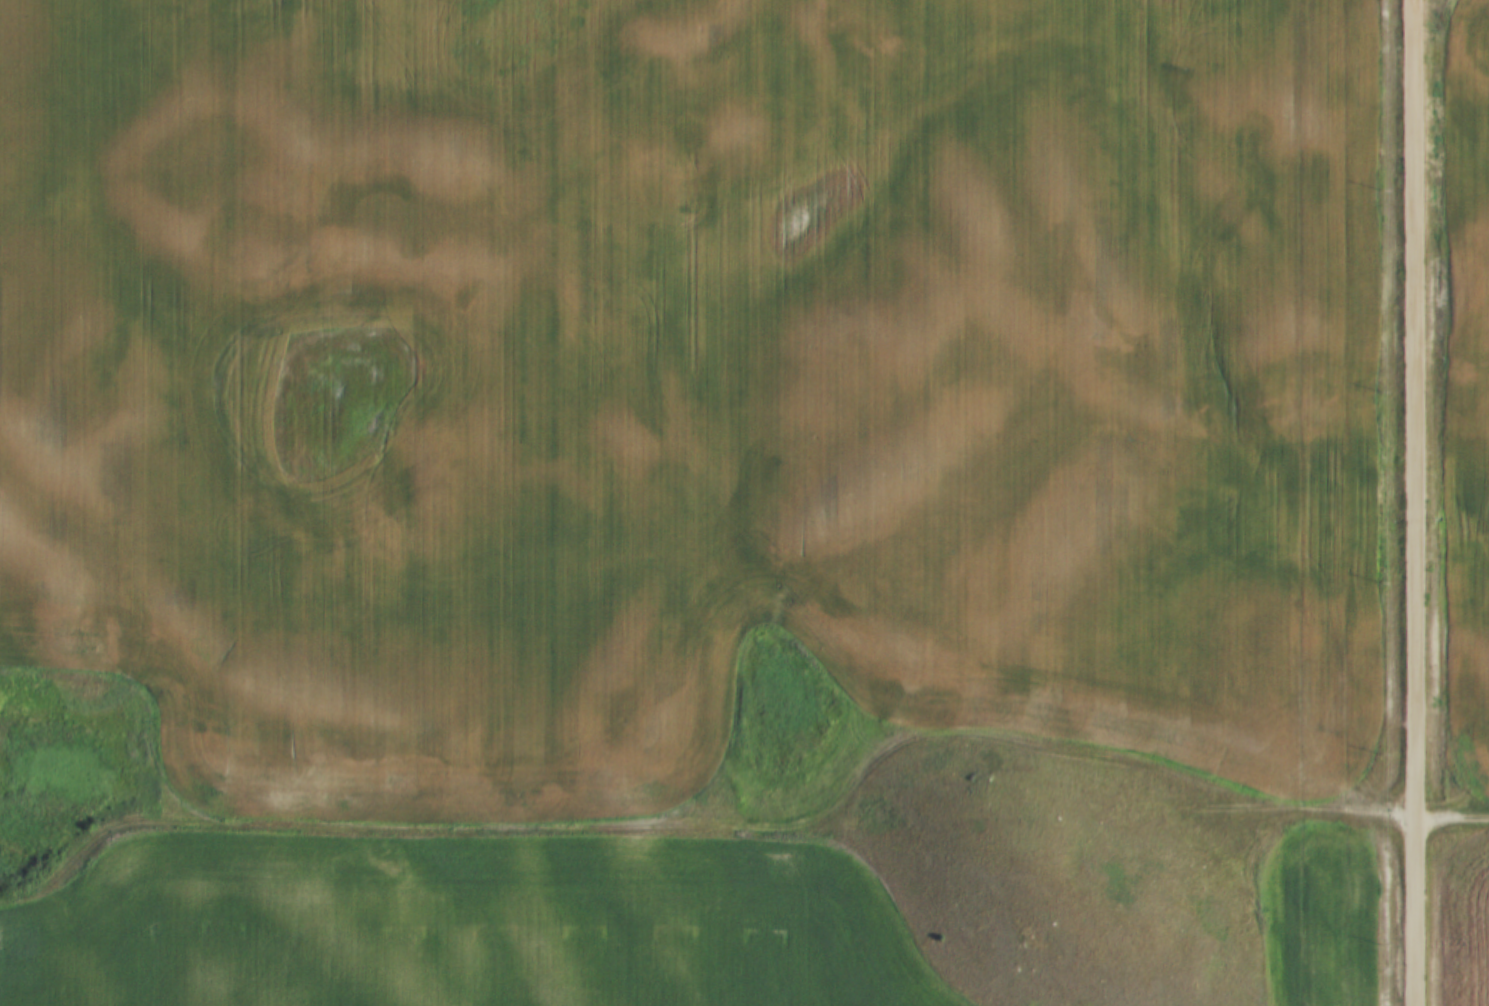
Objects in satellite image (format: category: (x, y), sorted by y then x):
road: (1414, 502)
road: (734, 819)

